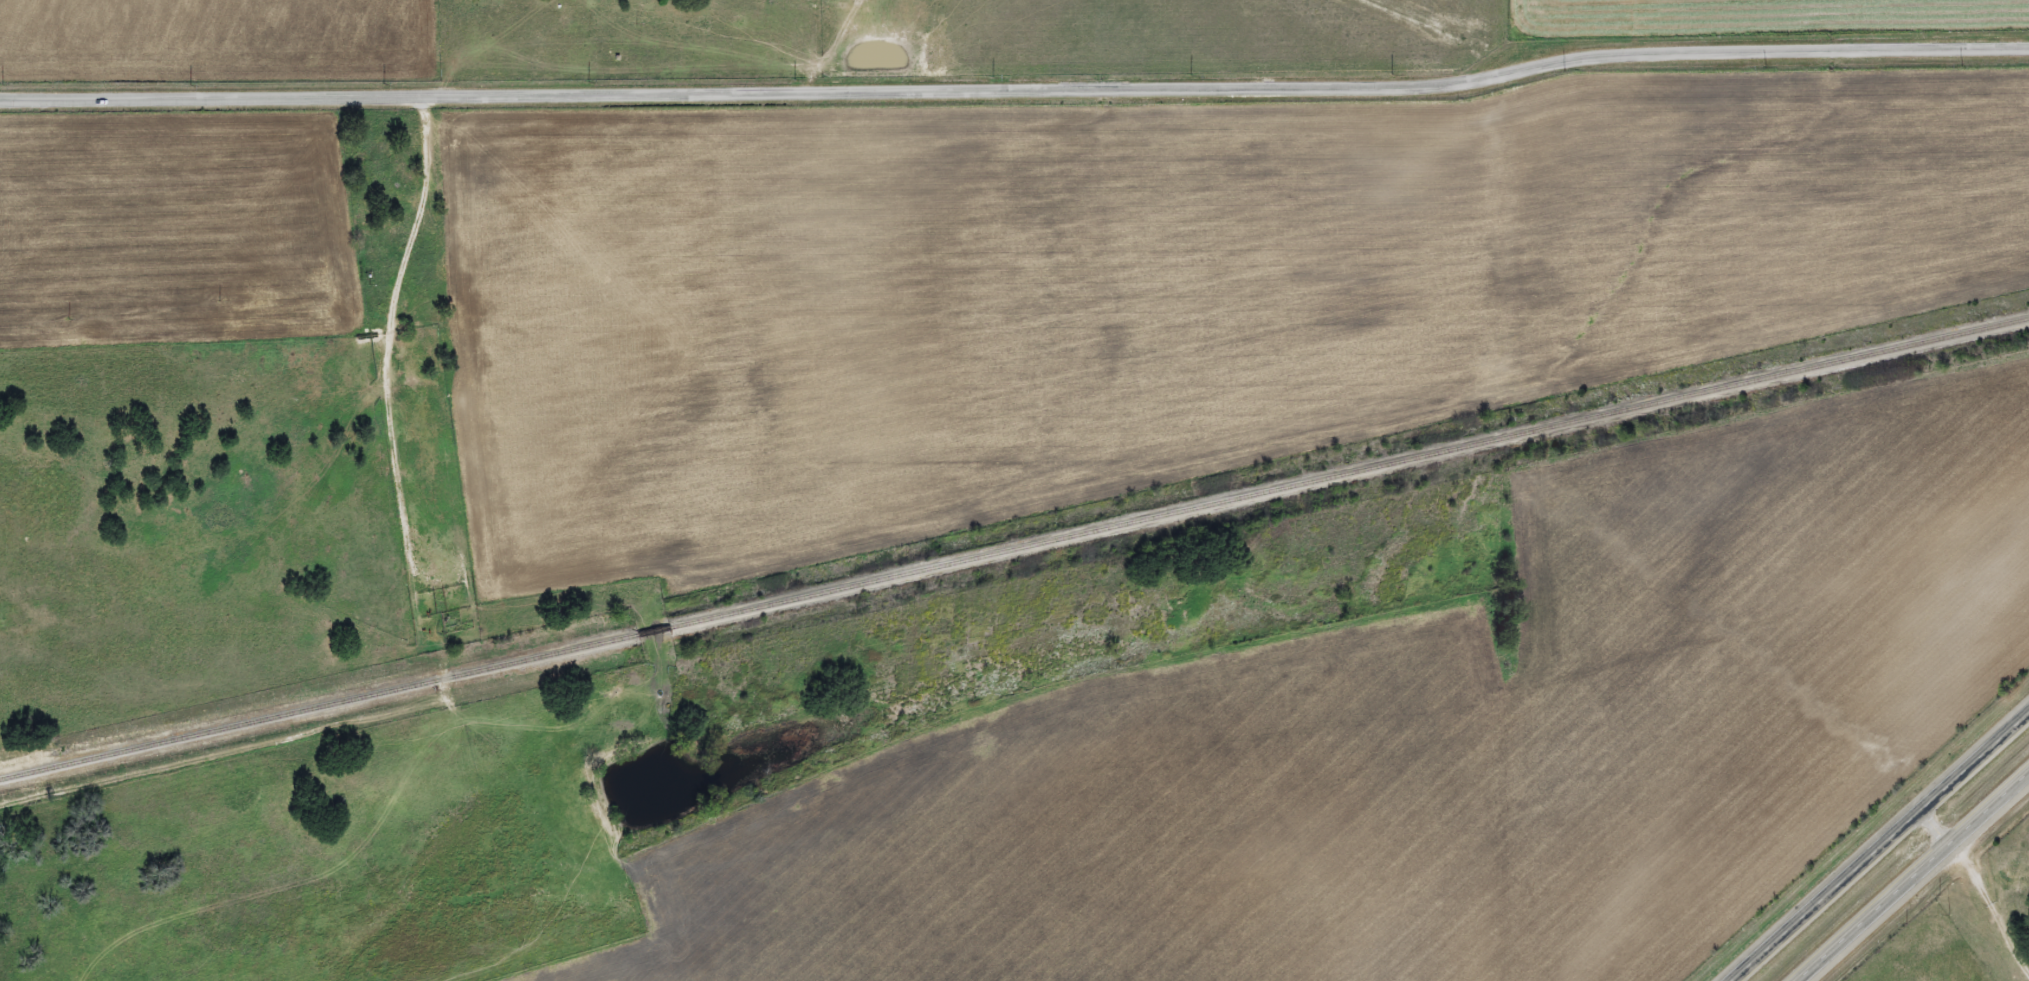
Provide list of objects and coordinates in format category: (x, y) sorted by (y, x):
road: (1014, 70)
railway: (1013, 546)
road: (1888, 852)
road: (1919, 880)
road: (1983, 890)

